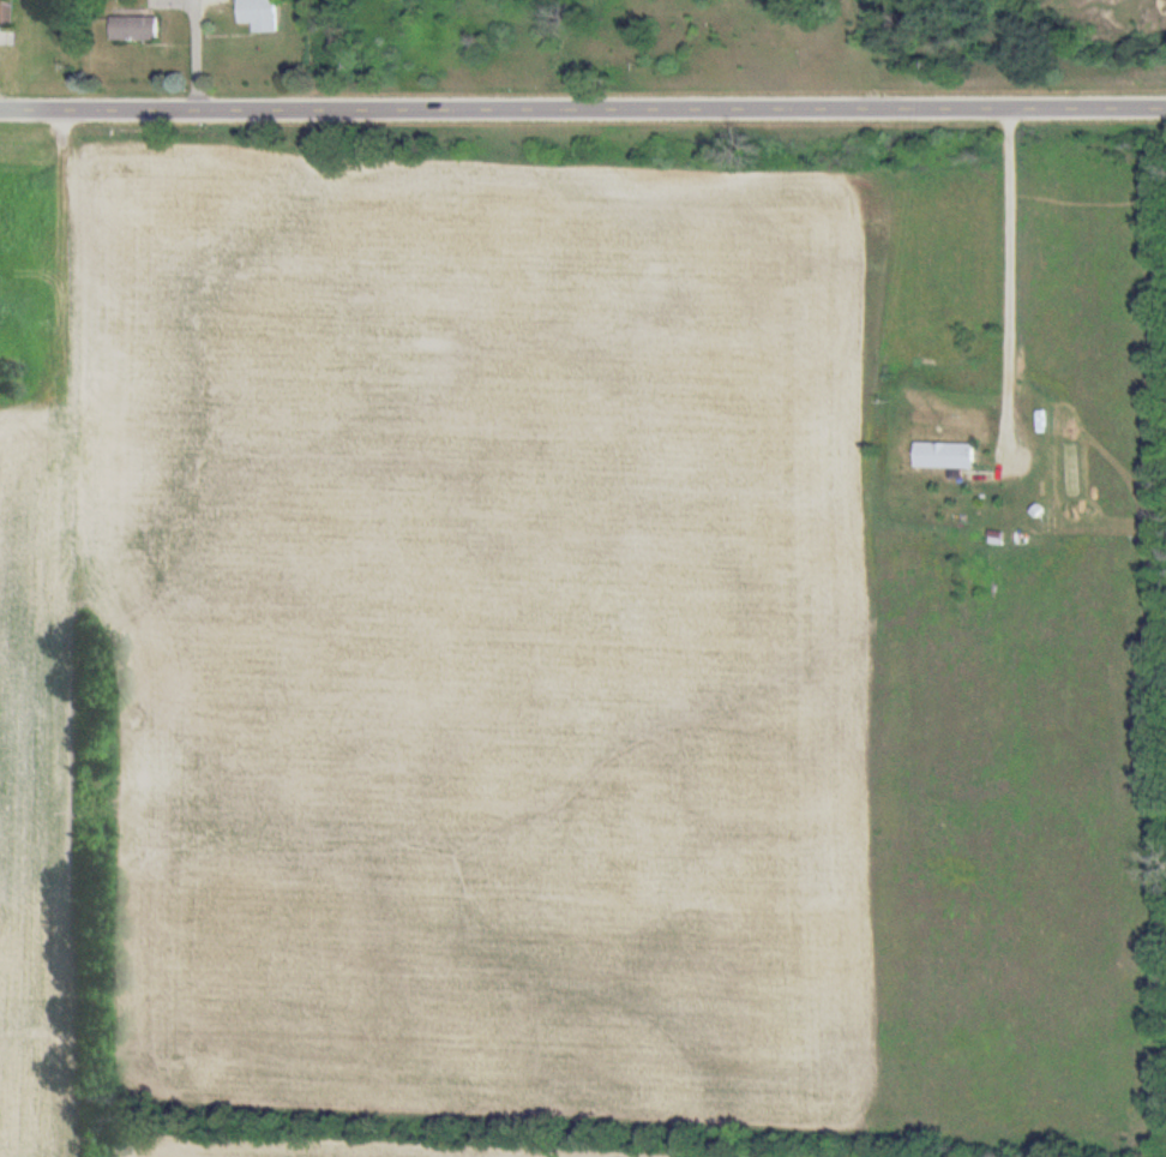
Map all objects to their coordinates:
building: (1, 12)
building: (258, 14)
building: (132, 28)
road: (583, 102)
road: (1008, 282)
building: (943, 456)

